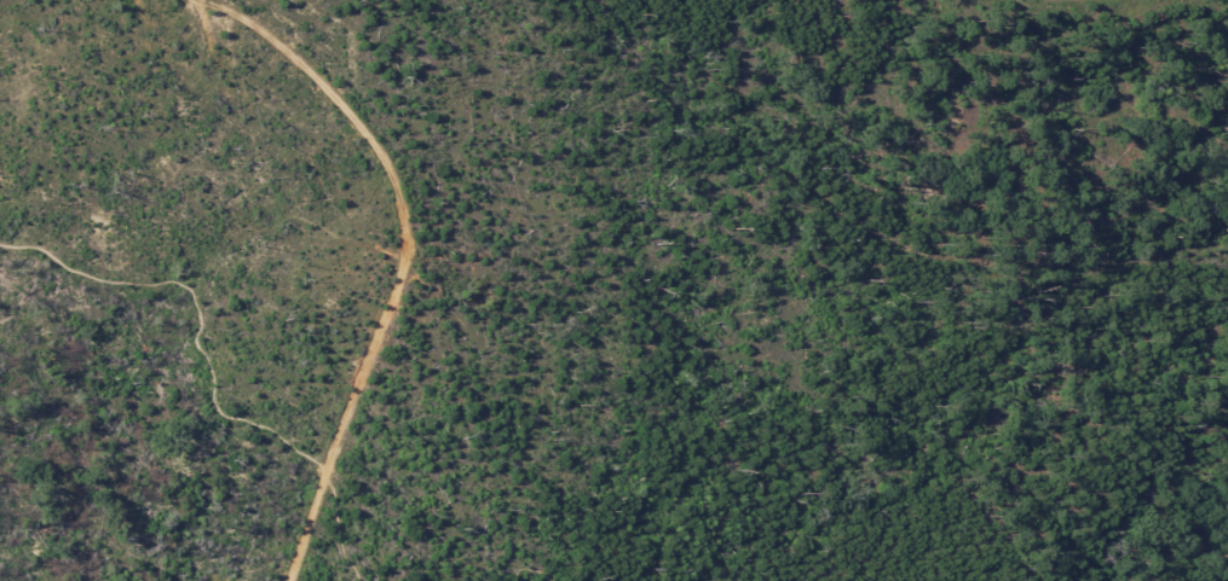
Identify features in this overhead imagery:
road: (1101, 1)
road: (396, 261)
park: (613, 290)
road: (208, 365)
road: (521, 568)

